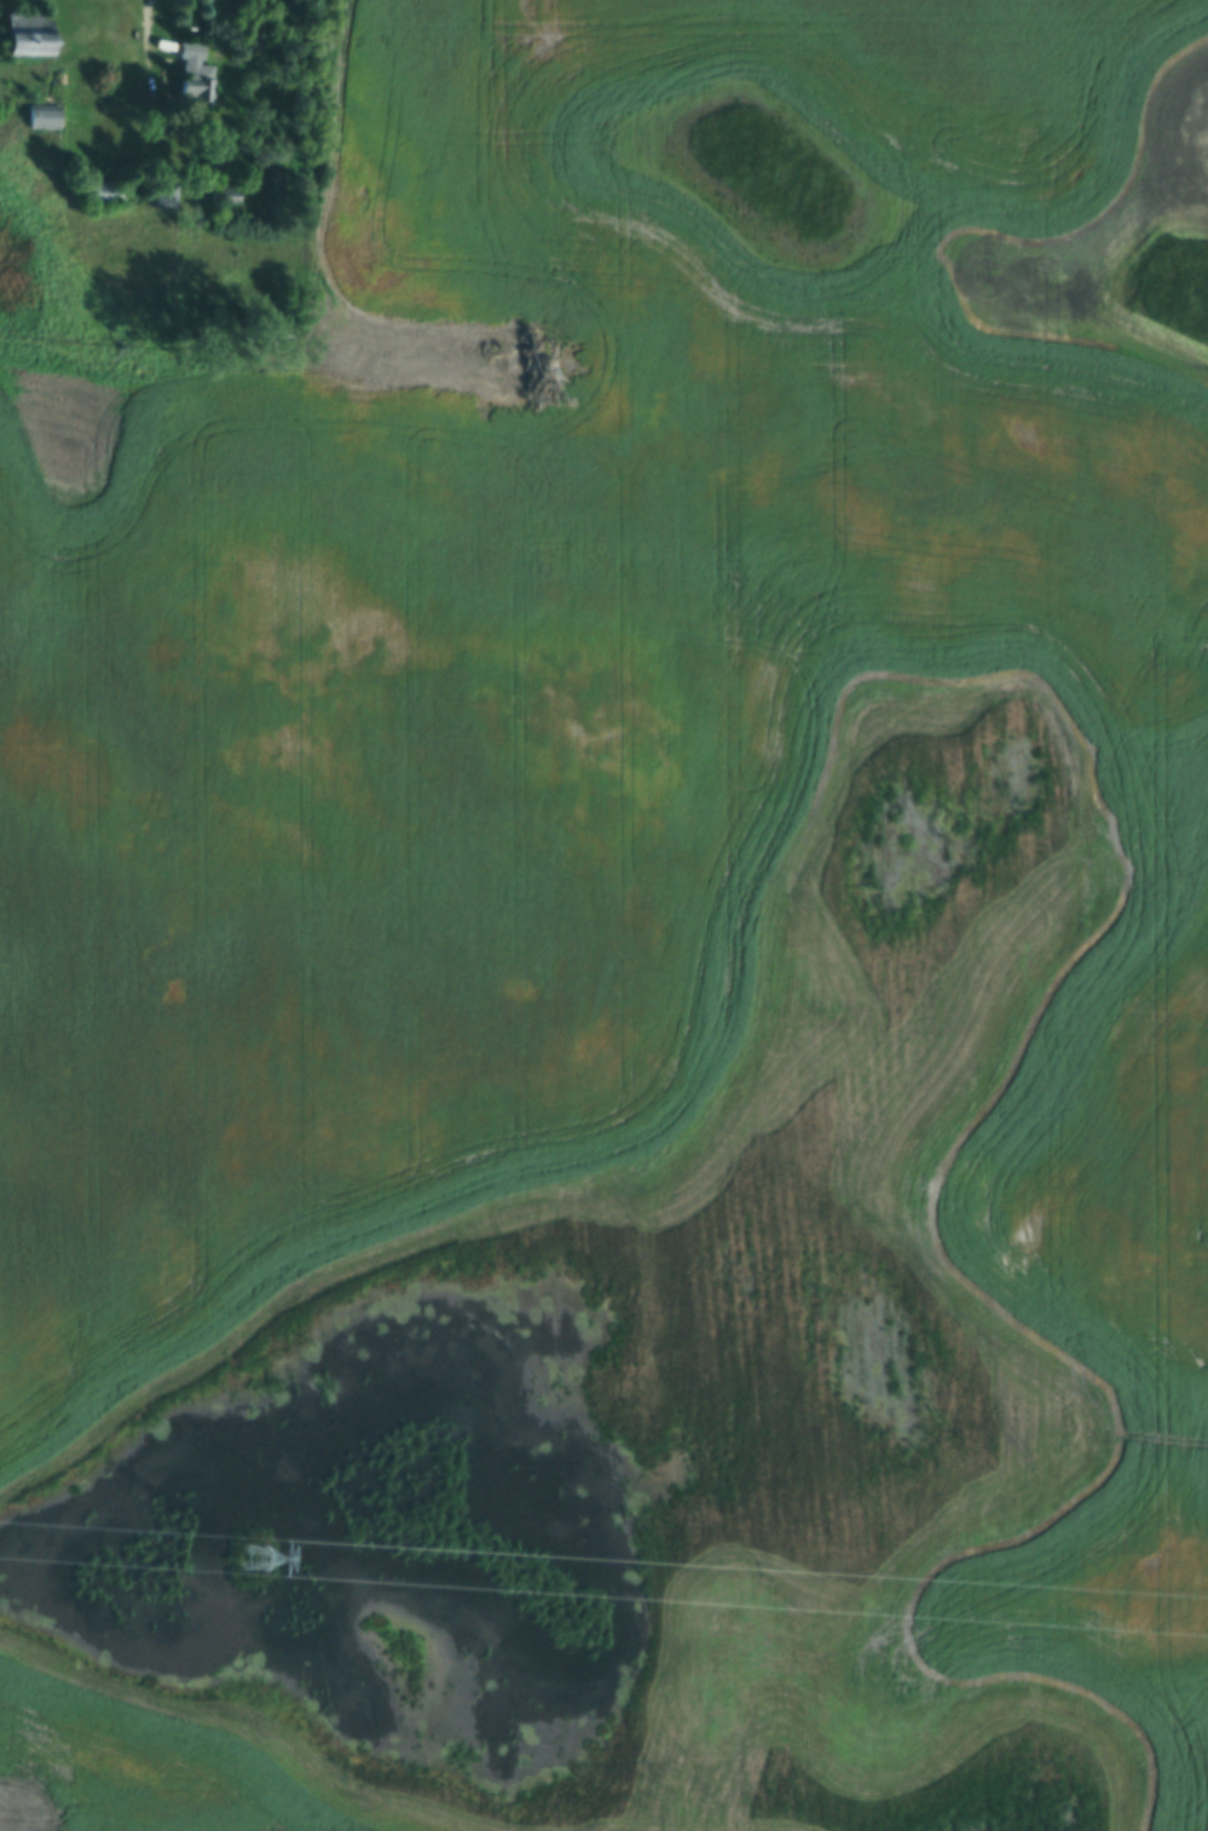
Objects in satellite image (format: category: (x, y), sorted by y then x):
road: (151, 31)
building: (33, 35)
building: (195, 75)
building: (105, 195)
building: (225, 195)
power tower: (255, 1556)

